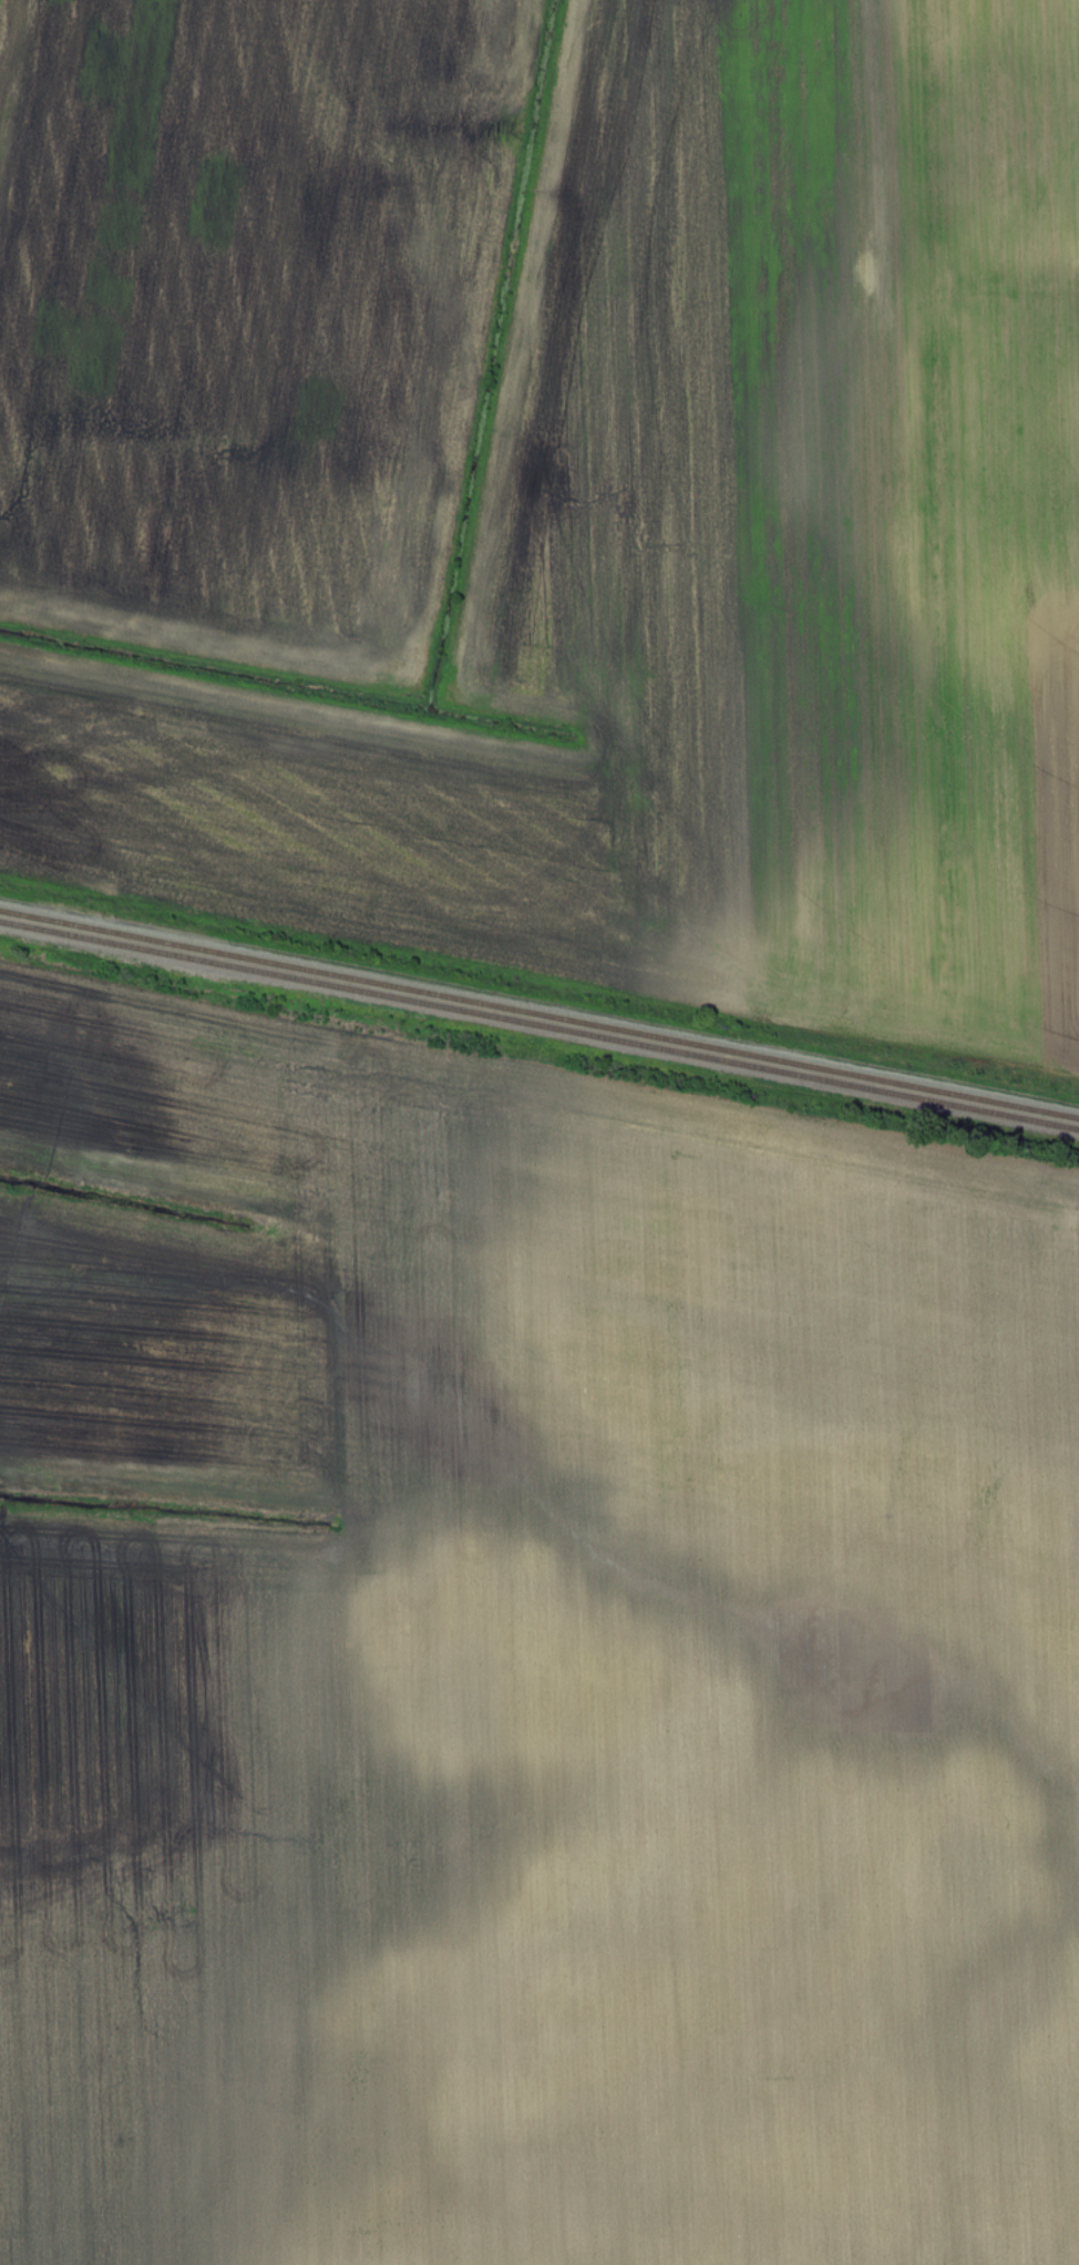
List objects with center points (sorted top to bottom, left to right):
railway: (258, 960)
railway: (257, 970)
railway: (798, 1064)
railway: (797, 1075)

